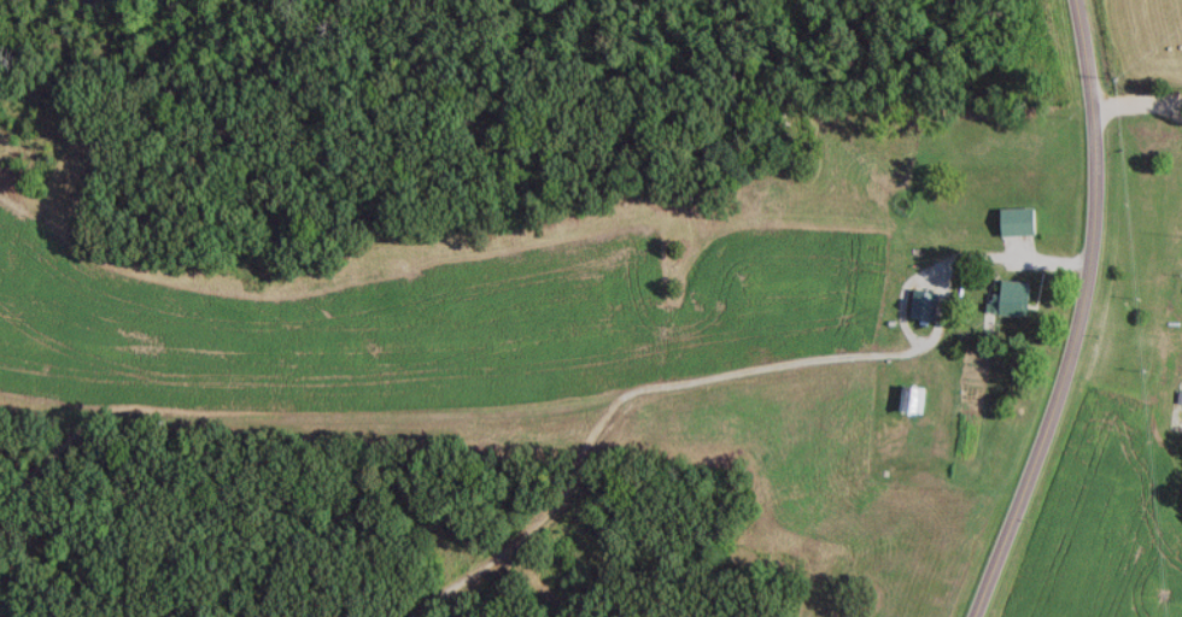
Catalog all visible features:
road: (1135, 101)
road: (1170, 110)
building: (1023, 219)
building: (1020, 295)
road: (1081, 316)
building: (915, 398)

